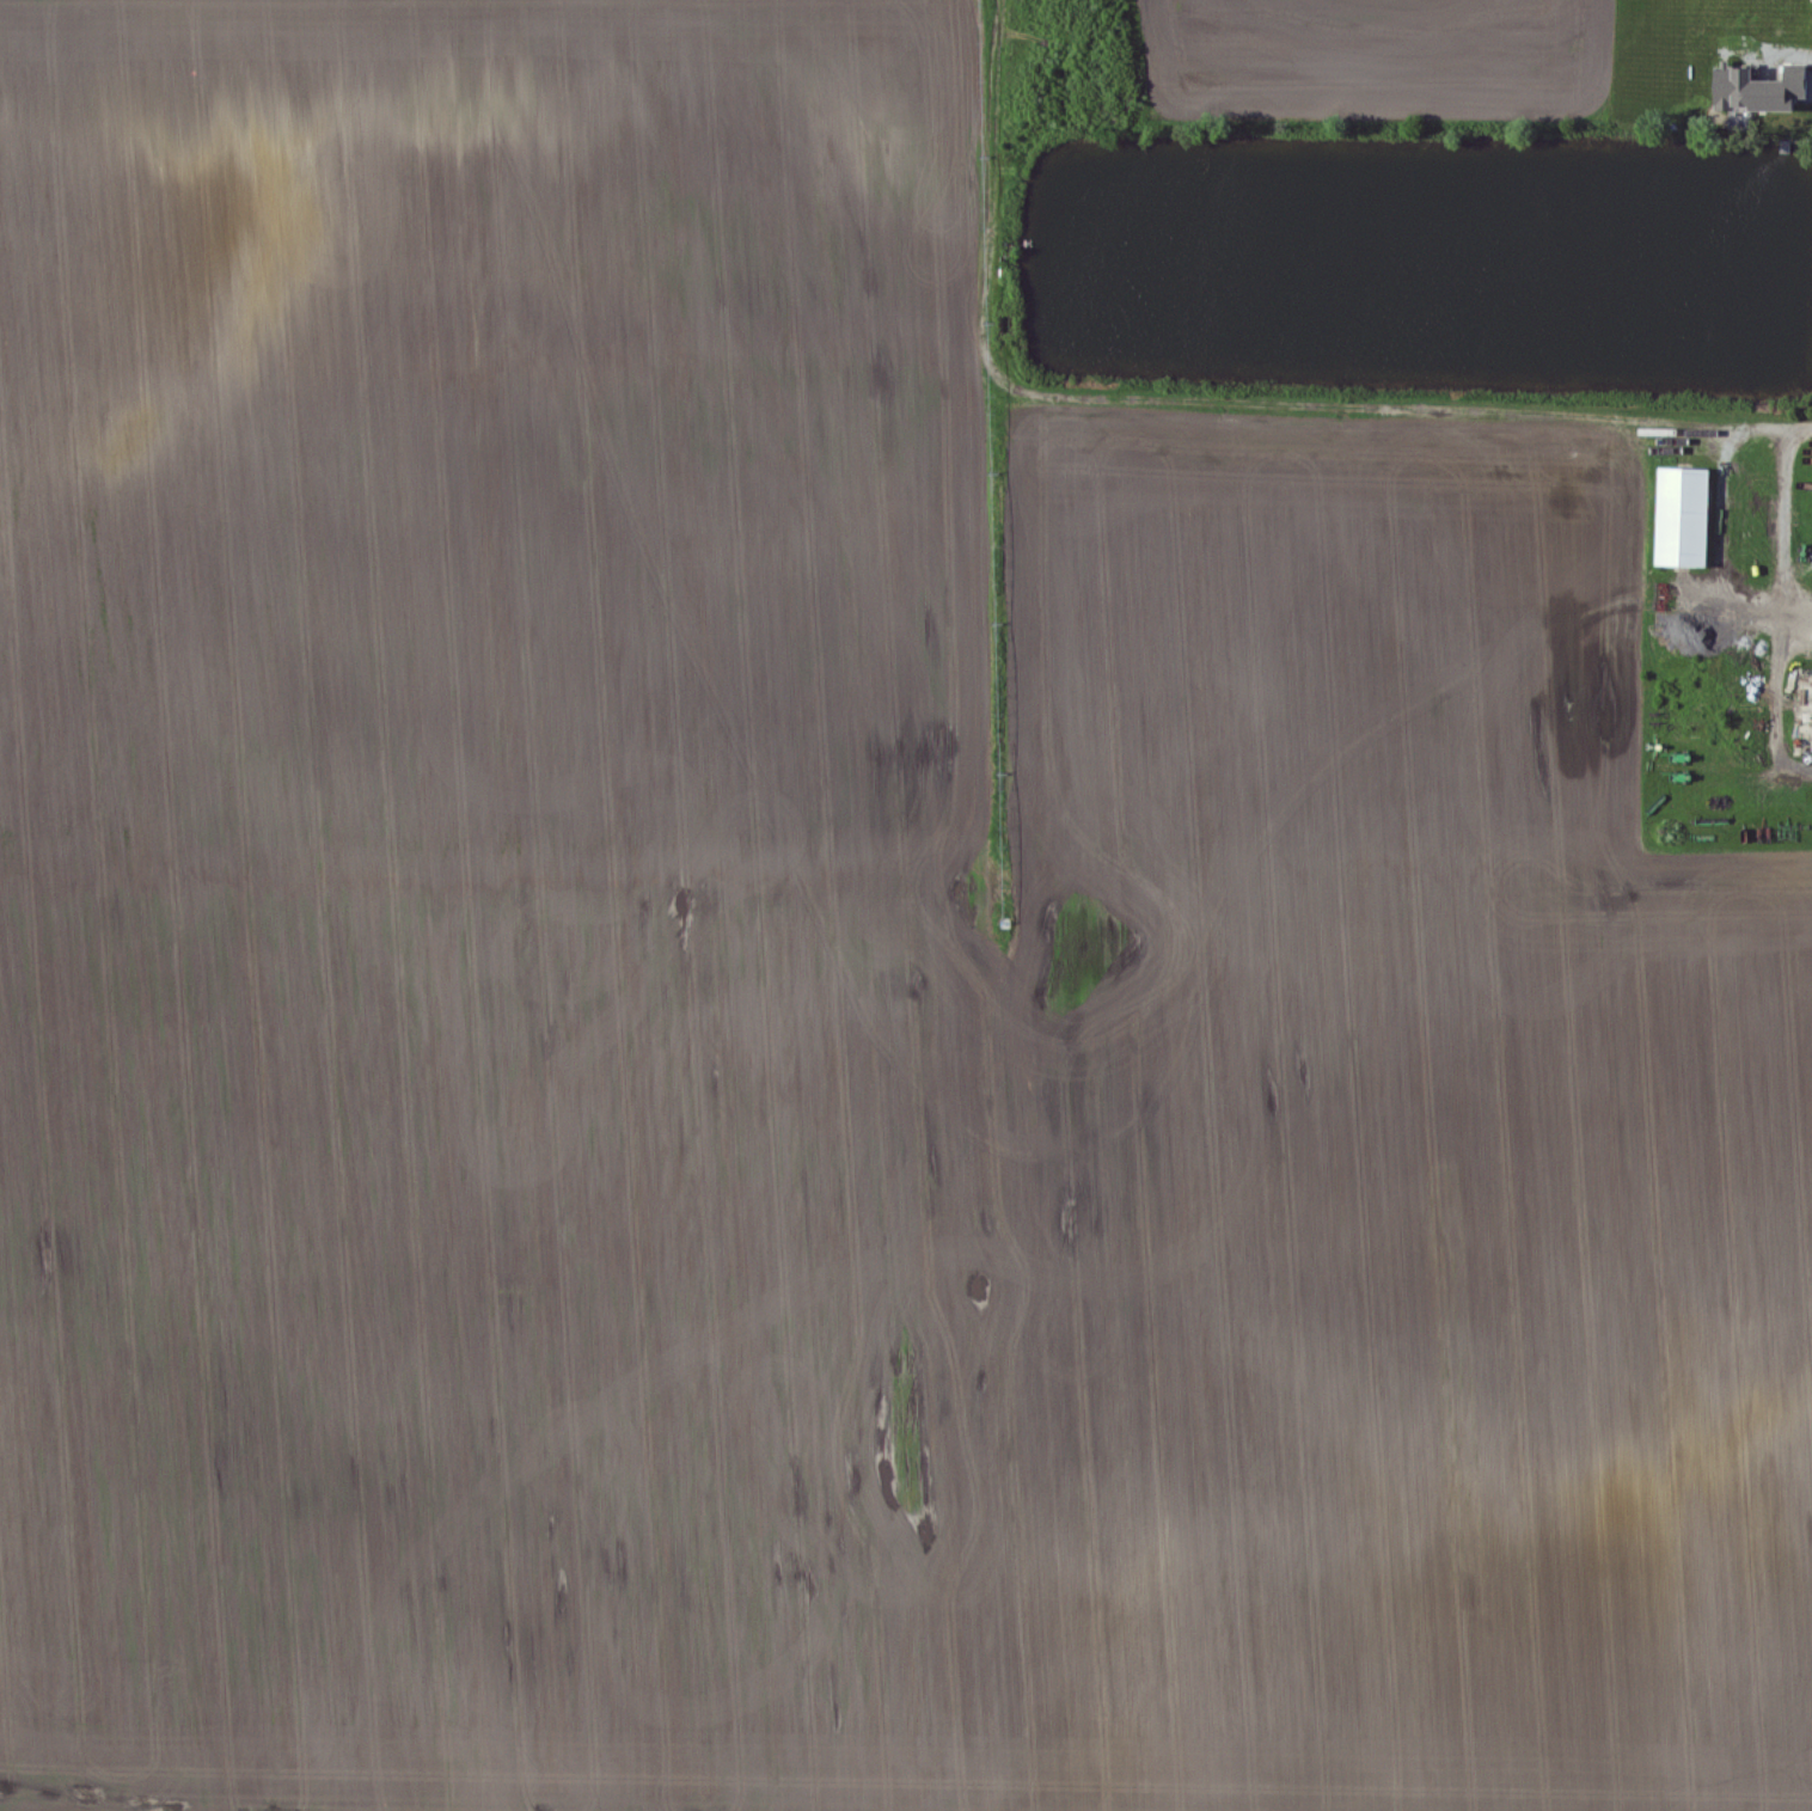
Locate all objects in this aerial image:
road: (1770, 50)
building: (1764, 92)
road: (1721, 516)
building: (1694, 520)

